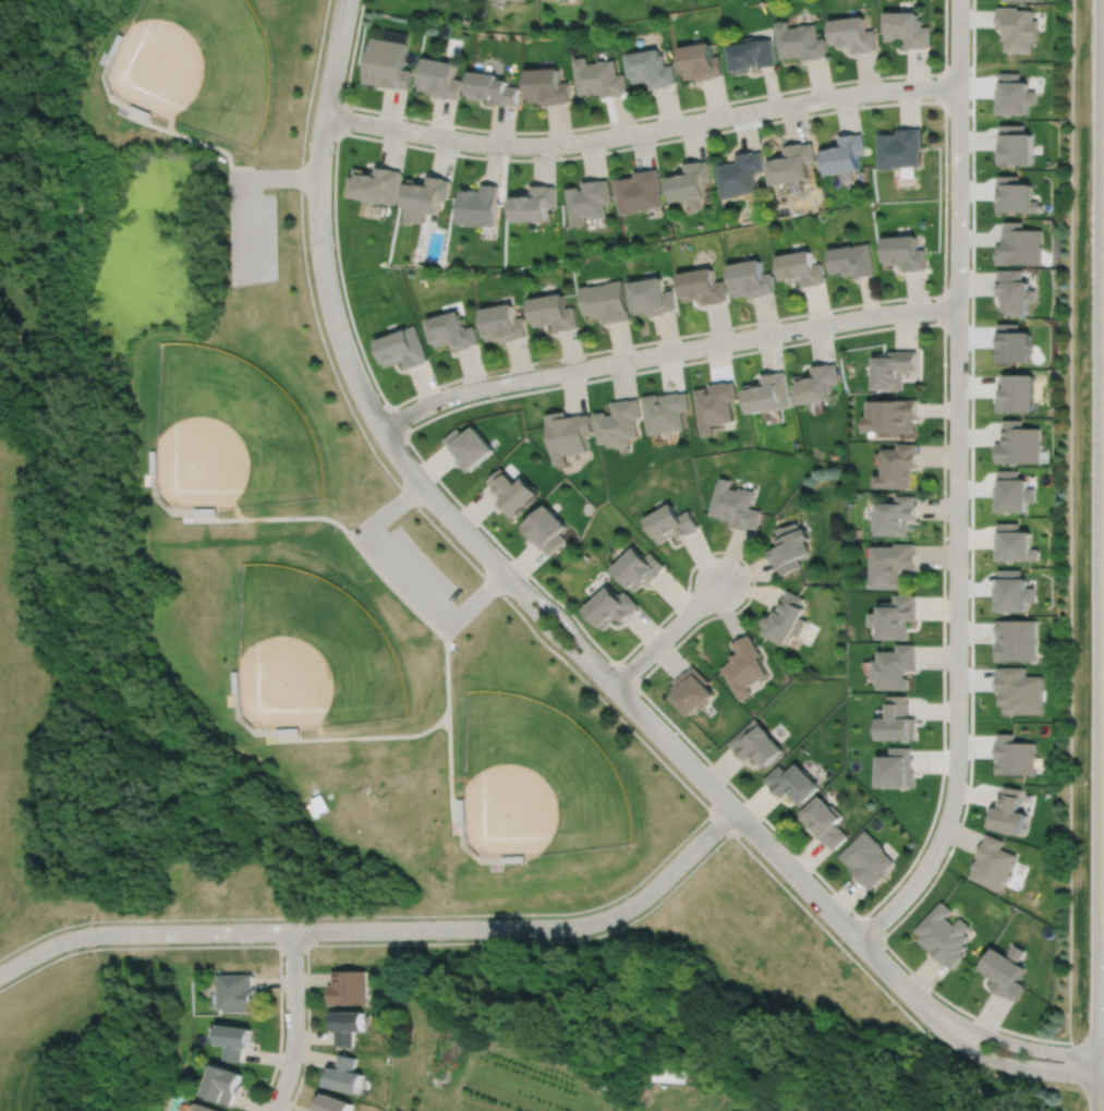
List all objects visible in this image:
building: (1021, 0)
road: (343, 7)
road: (345, 7)
building: (1017, 28)
building: (908, 31)
building: (395, 35)
building: (854, 35)
building: (802, 43)
building: (753, 56)
building: (702, 63)
street lamp: (947, 63)
park: (195, 64)
building: (387, 64)
building: (652, 69)
building: (600, 79)
building: (440, 80)
building: (547, 87)
road: (944, 87)
building: (493, 89)
building: (1014, 97)
road: (866, 105)
road: (341, 117)
road: (628, 119)
road: (162, 125)
road: (641, 130)
building: (1015, 147)
building: (901, 149)
building: (846, 156)
building: (793, 166)
building: (741, 173)
road: (284, 174)
building: (691, 180)
building: (378, 182)
building: (641, 191)
building: (1015, 193)
building: (427, 194)
building: (589, 201)
building: (534, 203)
building: (478, 204)
road: (253, 225)
parking lot: (250, 228)
building: (1018, 243)
building: (905, 251)
building: (854, 258)
building: (802, 266)
building: (752, 276)
building: (703, 285)
street lamp: (946, 286)
building: (1014, 290)
building: (653, 294)
building: (606, 300)
building: (554, 310)
road: (943, 310)
road: (335, 319)
building: (504, 321)
building: (453, 329)
street lamp: (736, 329)
street lamp: (838, 333)
building: (404, 347)
road: (665, 351)
street lamp: (538, 364)
building: (895, 366)
street lamp: (636, 369)
building: (820, 382)
street lamp: (375, 389)
building: (771, 391)
building: (1016, 391)
street lamp: (461, 402)
building: (717, 403)
building: (668, 410)
building: (891, 414)
street lamp: (968, 416)
road: (396, 420)
building: (620, 421)
park: (226, 433)
building: (570, 433)
building: (1018, 443)
building: (469, 446)
building: (898, 466)
road: (957, 485)
building: (511, 491)
building: (1012, 492)
road: (396, 504)
building: (737, 505)
building: (898, 515)
road: (307, 516)
building: (672, 522)
road: (1070, 523)
building: (546, 529)
road: (361, 531)
street lamp: (946, 540)
building: (1014, 543)
building: (791, 546)
street lamp: (739, 560)
building: (894, 564)
park: (279, 565)
building: (640, 567)
parking lot: (411, 572)
road: (412, 572)
street lamp: (532, 581)
building: (1014, 591)
road: (481, 595)
road: (971, 595)
building: (612, 606)
building: (897, 616)
building: (789, 618)
road: (567, 621)
road: (667, 633)
road: (551, 636)
road: (541, 638)
street lamp: (678, 638)
building: (1016, 640)
park: (308, 651)
road: (943, 651)
street lamp: (968, 664)
building: (745, 666)
building: (896, 667)
road: (626, 674)
building: (694, 690)
building: (1018, 690)
road: (449, 715)
building: (899, 722)
road: (328, 737)
building: (759, 744)
road: (674, 748)
building: (1014, 757)
street lamp: (705, 762)
building: (898, 769)
park: (536, 780)
street lamp: (967, 781)
building: (794, 783)
road: (1103, 798)
building: (1008, 813)
building: (826, 822)
street lamp: (718, 841)
road: (465, 846)
street lamp: (924, 847)
building: (869, 859)
building: (993, 864)
road: (821, 901)
road: (369, 915)
road: (383, 928)
road: (871, 929)
building: (943, 937)
road: (522, 941)
road: (219, 944)
street lamp: (888, 951)
street lamp: (62, 953)
building: (1005, 971)
building: (350, 986)
building: (235, 989)
road: (292, 1022)
building: (349, 1024)
road: (306, 1028)
building: (234, 1038)
road: (1000, 1040)
street lamp: (1048, 1043)
road: (1089, 1044)
road: (993, 1061)
road: (1076, 1068)
building: (344, 1073)
building: (668, 1075)
road: (1103, 1079)
building: (223, 1082)
street lamp: (1042, 1082)
road: (1103, 1084)
road: (1091, 1091)
building: (333, 1102)
building: (205, 1107)
building: (736, 1110)

